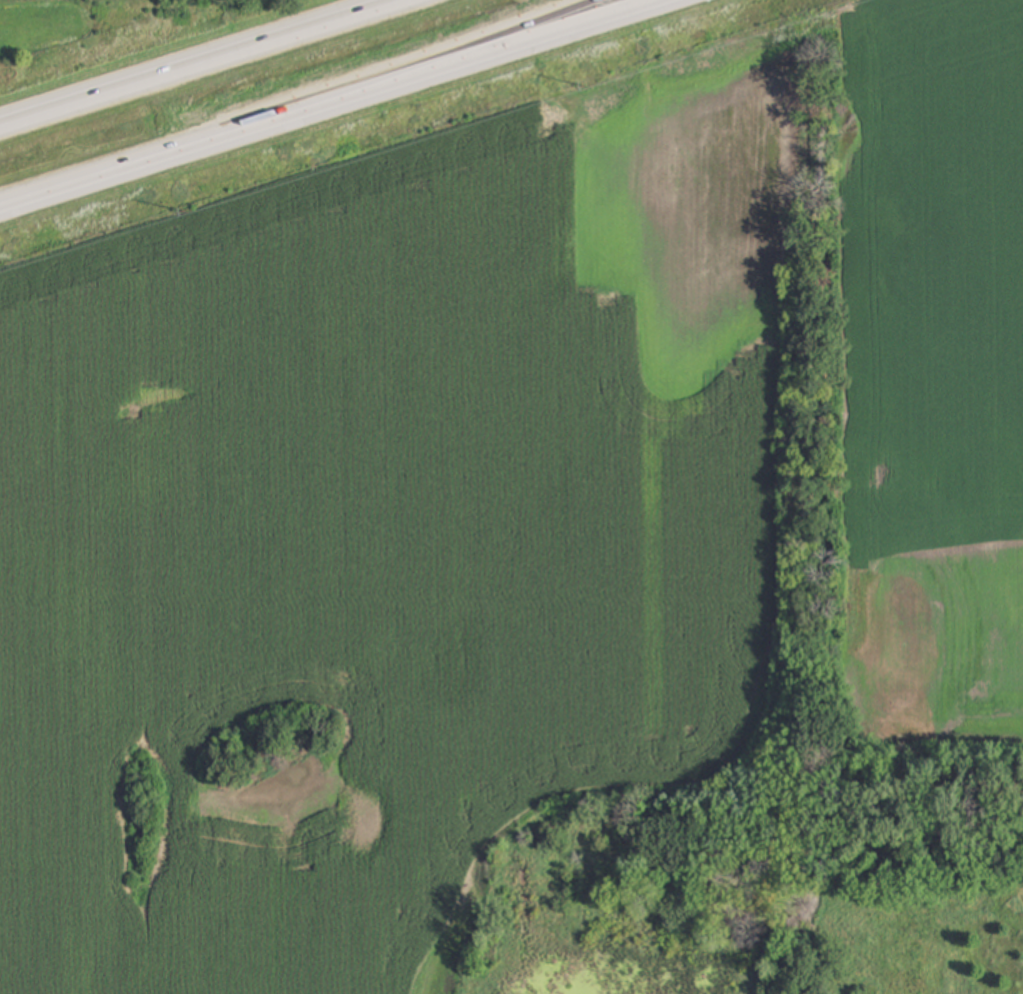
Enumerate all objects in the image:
road: (212, 66)
road: (336, 106)

